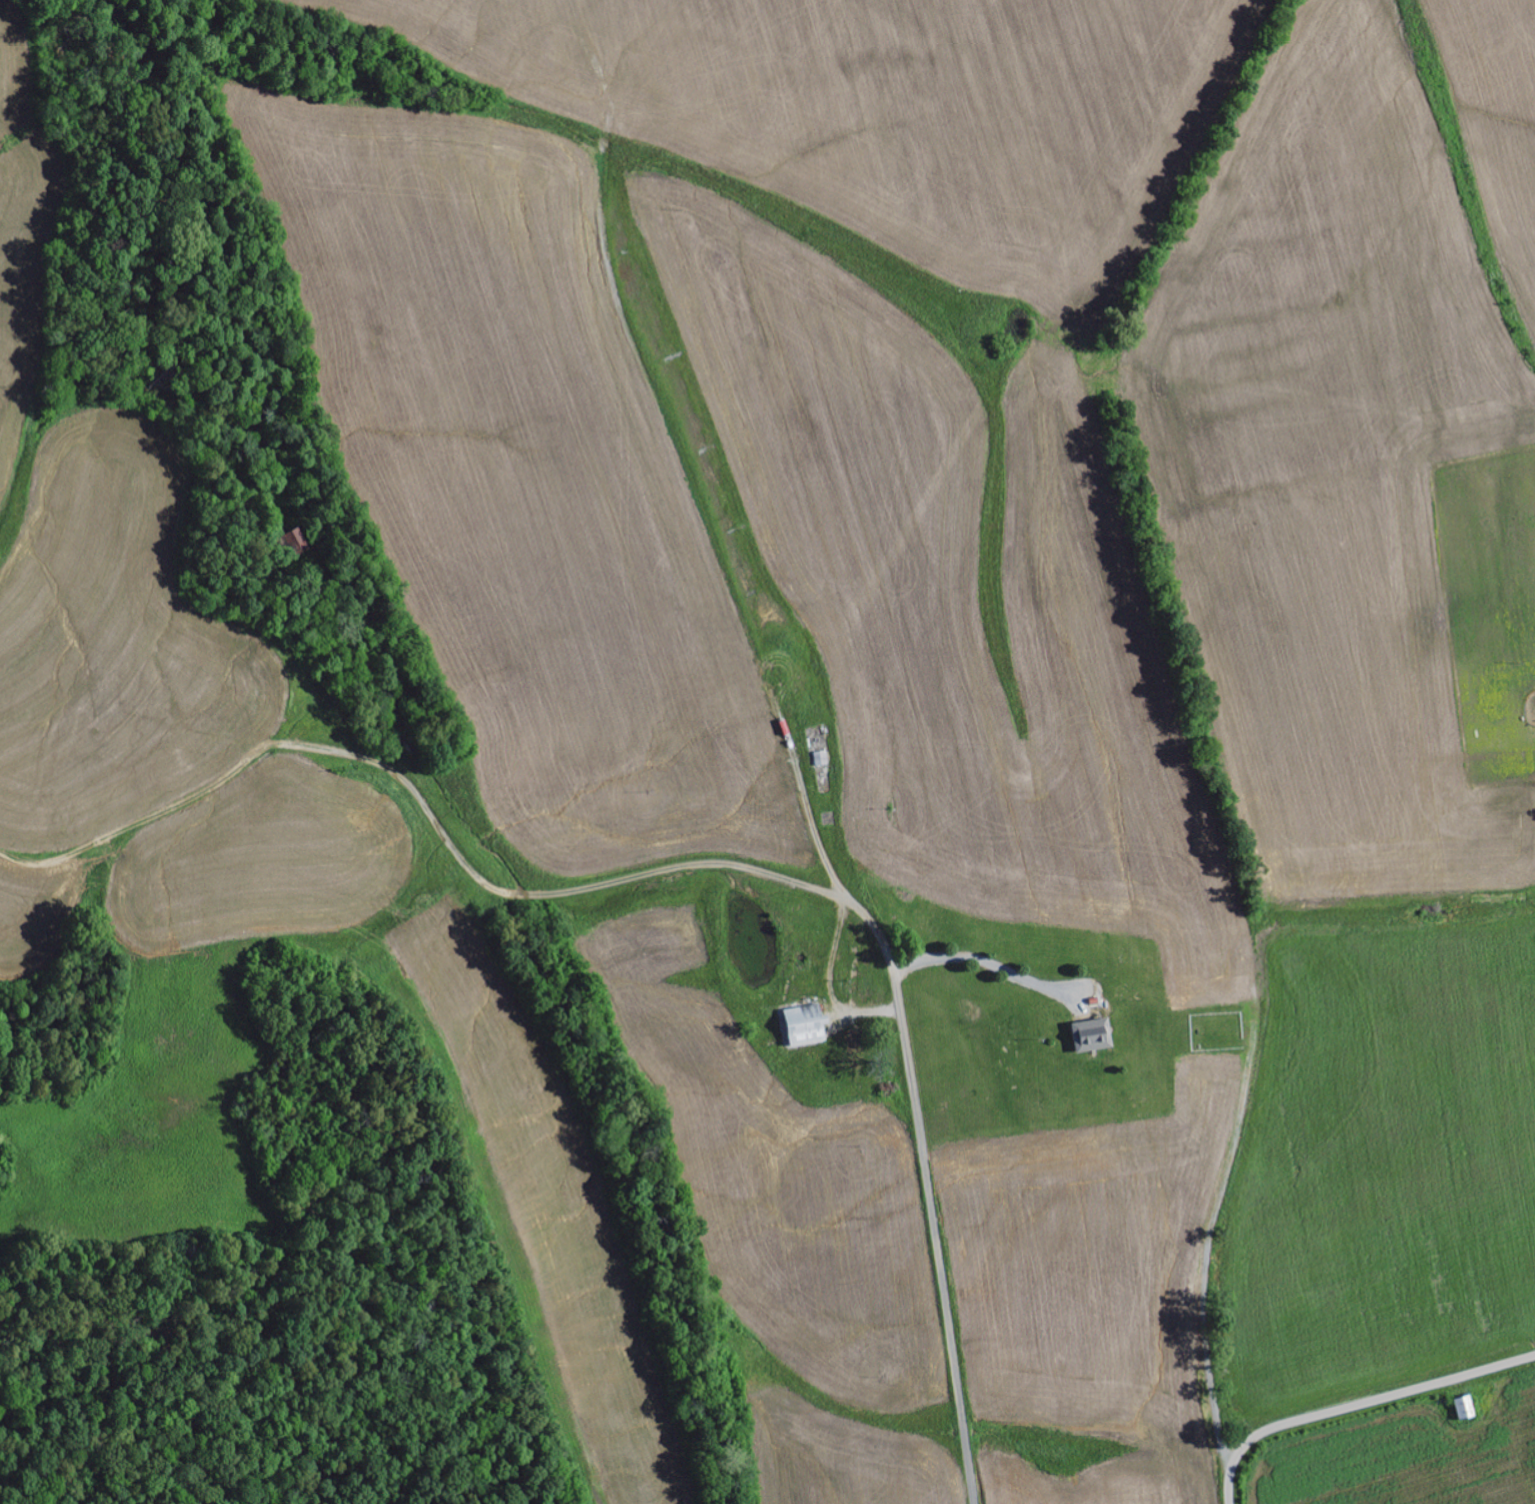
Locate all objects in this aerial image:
building: (804, 1026)
building: (1090, 1036)
road: (935, 1225)
road: (1357, 1403)
building: (1463, 1409)

